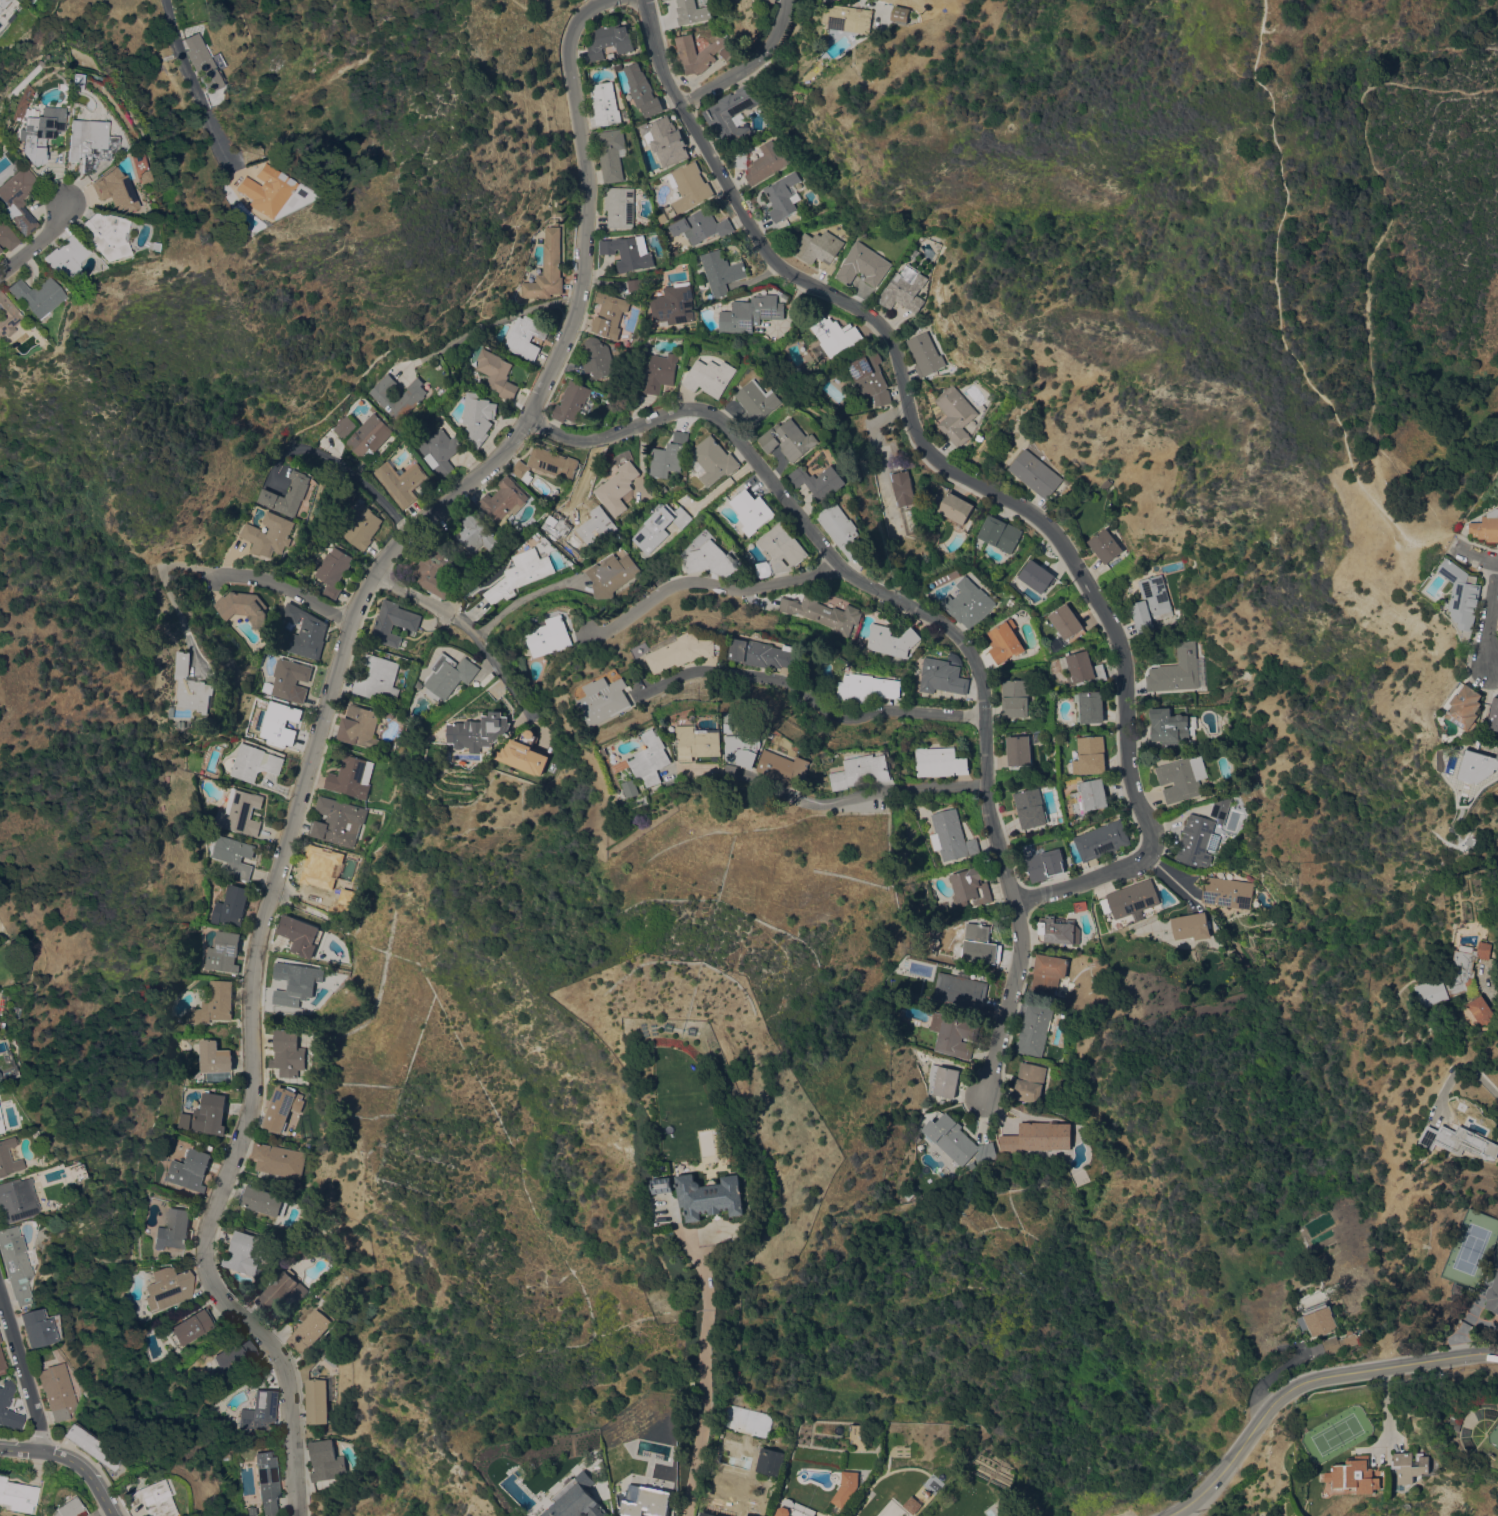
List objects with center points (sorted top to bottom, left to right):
building: (662, 0)
building: (666, 0)
building: (772, 0)
building: (4, 4)
building: (692, 11)
building: (899, 13)
building: (848, 18)
building: (610, 40)
road: (179, 45)
building: (701, 52)
building: (201, 62)
road: (749, 62)
building: (642, 90)
building: (604, 105)
building: (732, 115)
building: (37, 130)
building: (665, 141)
building: (87, 142)
building: (611, 153)
building: (739, 158)
building: (765, 163)
building: (141, 176)
building: (689, 186)
building: (111, 189)
building: (264, 189)
building: (782, 196)
building: (16, 199)
building: (620, 206)
building: (661, 216)
road: (1388, 221)
building: (700, 226)
building: (103, 234)
building: (860, 235)
building: (5, 237)
road: (37, 237)
building: (820, 249)
building: (628, 252)
building: (62, 257)
building: (862, 264)
building: (547, 268)
building: (721, 271)
building: (635, 284)
building: (904, 289)
building: (784, 294)
building: (33, 295)
building: (675, 304)
building: (751, 313)
road: (1278, 313)
building: (610, 314)
building: (7, 316)
road: (488, 322)
building: (833, 335)
building: (526, 337)
building: (925, 353)
building: (682, 354)
building: (597, 358)
building: (661, 372)
building: (497, 373)
building: (710, 376)
building: (871, 378)
building: (403, 394)
building: (571, 401)
building: (756, 403)
building: (955, 414)
building: (478, 417)
building: (365, 434)
building: (789, 439)
building: (438, 450)
building: (669, 455)
building: (617, 460)
building: (712, 460)
road: (342, 461)
building: (552, 462)
building: (522, 471)
building: (1036, 473)
road: (960, 475)
building: (401, 481)
building: (820, 482)
building: (616, 488)
building: (903, 488)
building: (288, 494)
building: (503, 500)
building: (956, 507)
building: (752, 510)
building: (557, 526)
building: (1486, 526)
building: (361, 527)
building: (597, 527)
building: (659, 527)
building: (841, 529)
building: (472, 531)
road: (811, 532)
building: (1000, 533)
building: (269, 534)
building: (1105, 545)
building: (781, 550)
road: (1474, 553)
building: (710, 556)
building: (434, 570)
building: (333, 571)
road: (220, 573)
building: (520, 574)
building: (611, 574)
building: (1037, 576)
road: (707, 583)
building: (1463, 595)
road: (523, 597)
building: (969, 602)
building: (1150, 602)
building: (244, 608)
building: (825, 613)
road: (1489, 614)
building: (1067, 621)
building: (393, 622)
road: (466, 628)
building: (306, 632)
building: (550, 636)
building: (891, 640)
building: (1005, 641)
building: (680, 650)
building: (763, 653)
building: (1083, 668)
building: (1177, 670)
building: (448, 675)
building: (942, 676)
building: (289, 677)
building: (378, 679)
building: (867, 685)
building: (193, 686)
road: (809, 691)
building: (1015, 698)
building: (604, 700)
building: (1090, 706)
building: (1469, 707)
building: (389, 713)
building: (1495, 717)
building: (281, 722)
building: (358, 724)
road: (321, 725)
building: (1169, 725)
building: (478, 731)
building: (698, 742)
building: (743, 748)
building: (1019, 750)
building: (523, 754)
building: (1091, 755)
building: (650, 757)
building: (940, 761)
building: (255, 762)
building: (1478, 765)
building: (784, 768)
building: (861, 771)
building: (350, 776)
building: (1182, 778)
building: (630, 788)
building: (1089, 797)
road: (821, 804)
building: (1031, 808)
building: (1221, 809)
building: (240, 812)
building: (337, 821)
building: (951, 836)
building: (1101, 839)
road: (998, 841)
building: (1195, 841)
building: (234, 855)
building: (1046, 864)
building: (323, 870)
building: (969, 887)
building: (1227, 892)
building: (1130, 898)
building: (231, 906)
building: (1191, 926)
building: (1058, 929)
building: (301, 935)
building: (980, 944)
building: (933, 946)
building: (223, 952)
building: (1048, 972)
building: (1453, 974)
building: (298, 979)
building: (960, 990)
building: (214, 1003)
road: (1013, 1003)
building: (1480, 1010)
building: (1034, 1030)
building: (954, 1034)
building: (288, 1053)
building: (215, 1057)
road: (1465, 1068)
building: (943, 1078)
building: (1029, 1082)
building: (281, 1107)
building: (210, 1114)
building: (1, 1127)
building: (1037, 1137)
building: (956, 1140)
building: (1461, 1142)
building: (8, 1156)
building: (277, 1159)
building: (189, 1169)
building: (70, 1171)
building: (664, 1184)
building: (711, 1195)
building: (16, 1200)
building: (264, 1201)
building: (174, 1229)
building: (247, 1253)
building: (14, 1264)
building: (168, 1287)
building: (281, 1291)
building: (1493, 1297)
building: (1320, 1319)
building: (39, 1327)
building: (191, 1327)
building: (309, 1330)
building: (0, 1340)
building: (1340, 1342)
building: (234, 1355)
building: (2, 1361)
road: (1274, 1373)
road: (23, 1374)
road: (703, 1374)
road: (1305, 1382)
building: (56, 1390)
building: (316, 1400)
building: (5, 1403)
building: (260, 1411)
road: (1385, 1413)
building: (1456, 1425)
building: (91, 1447)
road: (71, 1458)
building: (326, 1461)
building: (770, 1461)
building: (1411, 1465)
building: (502, 1466)
building: (1357, 1475)
building: (584, 1478)
building: (267, 1482)
building: (18, 1491)
building: (151, 1499)
building: (644, 1501)
building: (576, 1504)
building: (912, 1505)
building: (70, 1508)
building: (792, 1512)
building: (709, 1514)
building: (744, 1515)

